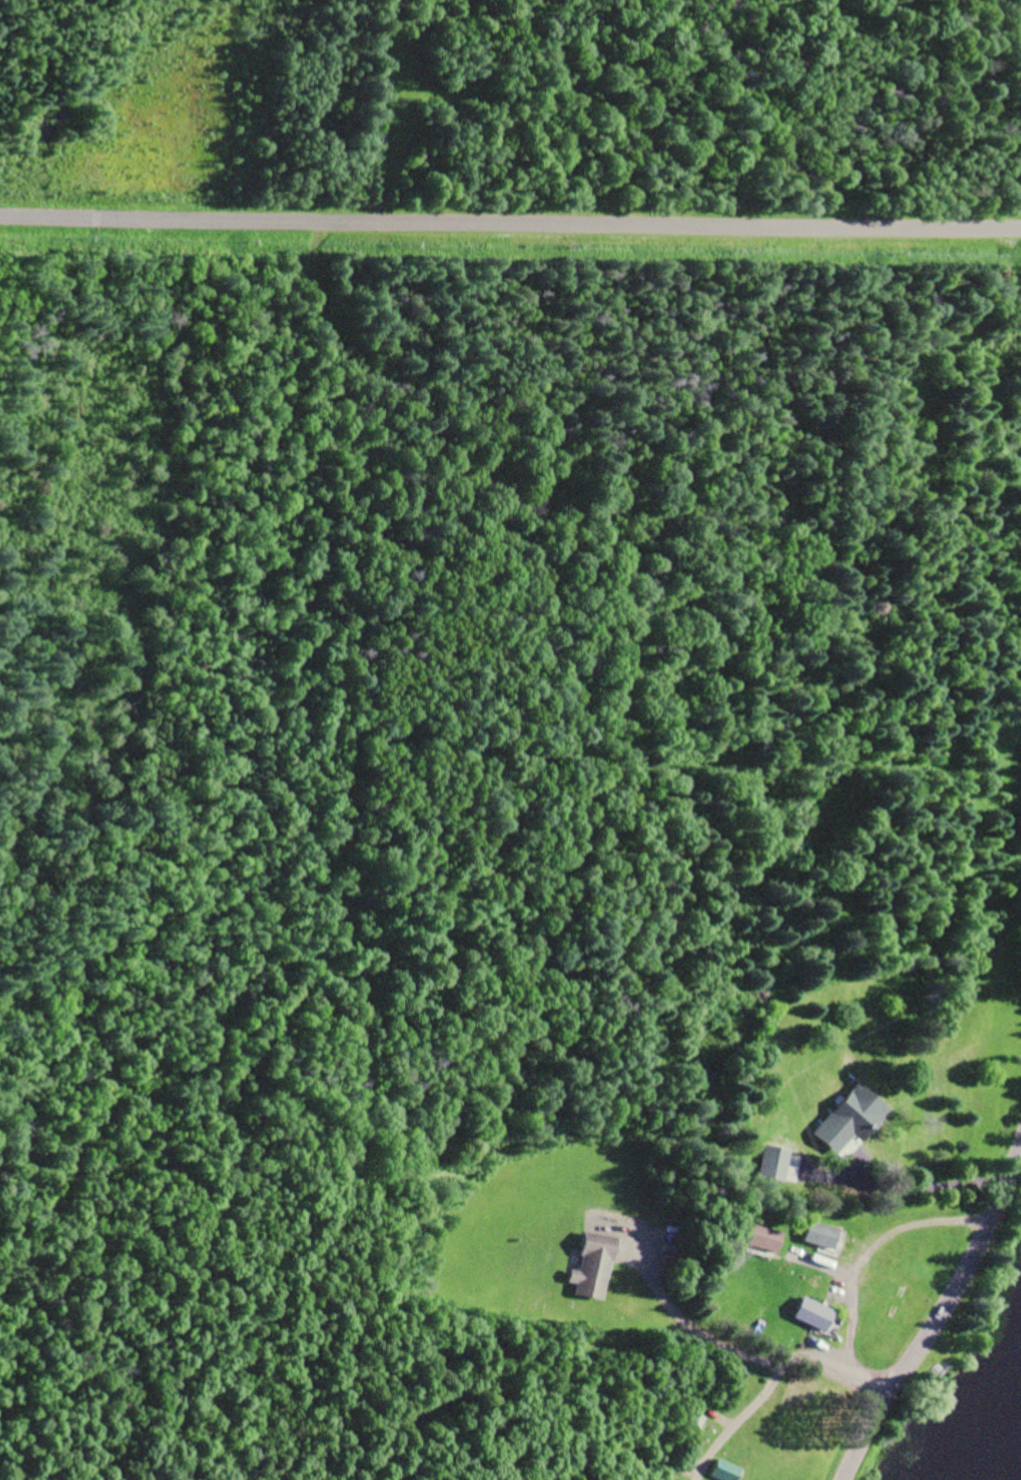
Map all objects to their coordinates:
road: (510, 222)
building: (774, 1163)
building: (821, 1235)
building: (766, 1238)
building: (593, 1265)
building: (814, 1314)
road: (940, 1317)
building: (692, 1422)
building: (726, 1471)

